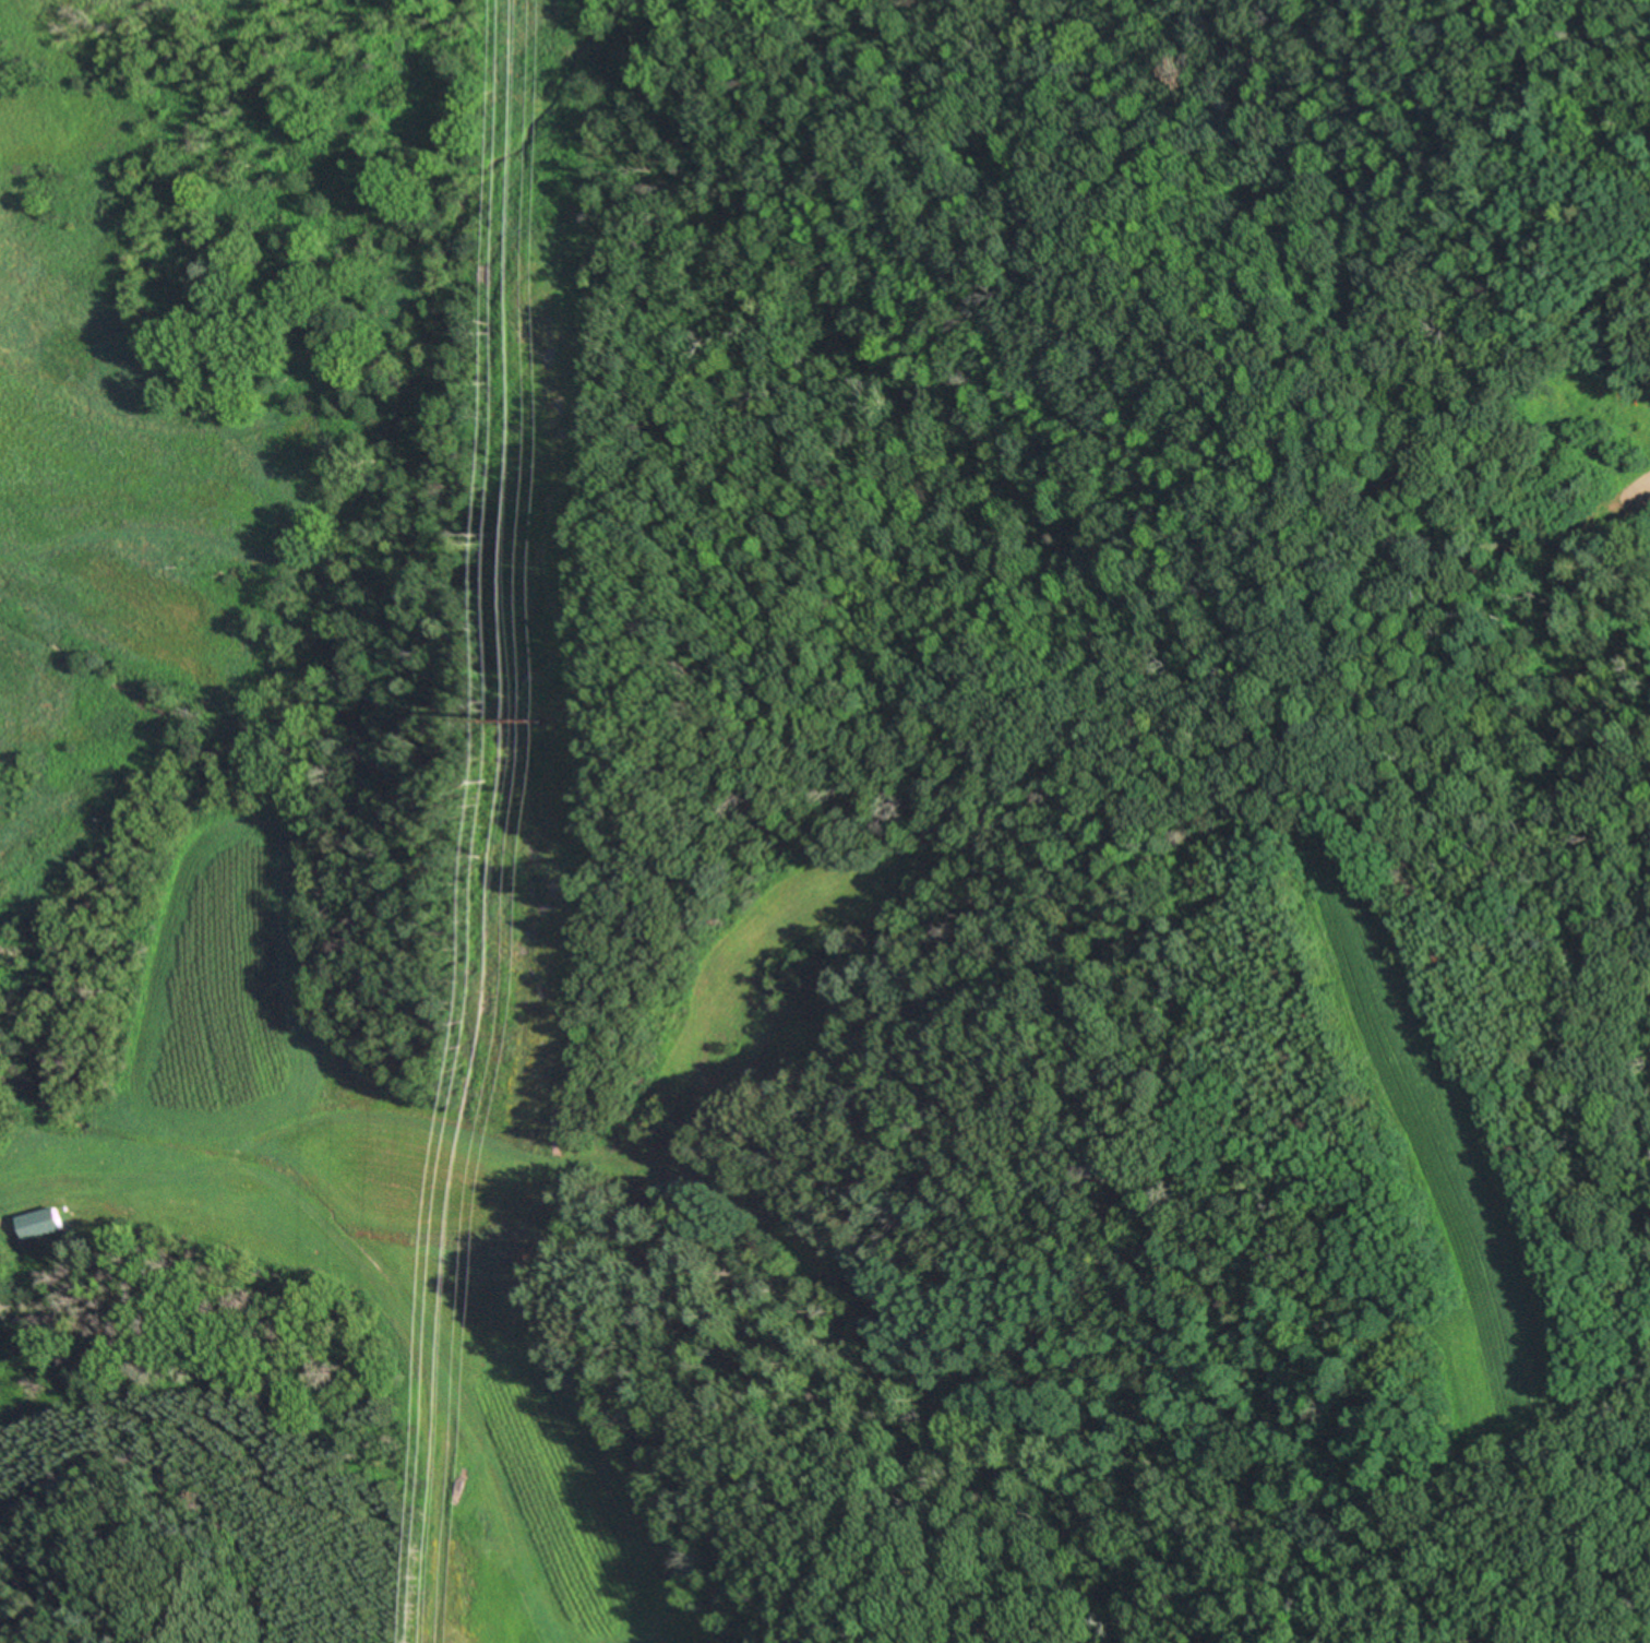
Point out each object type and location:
power tower: (546, 719)
building: (38, 1223)
road: (9, 1235)

